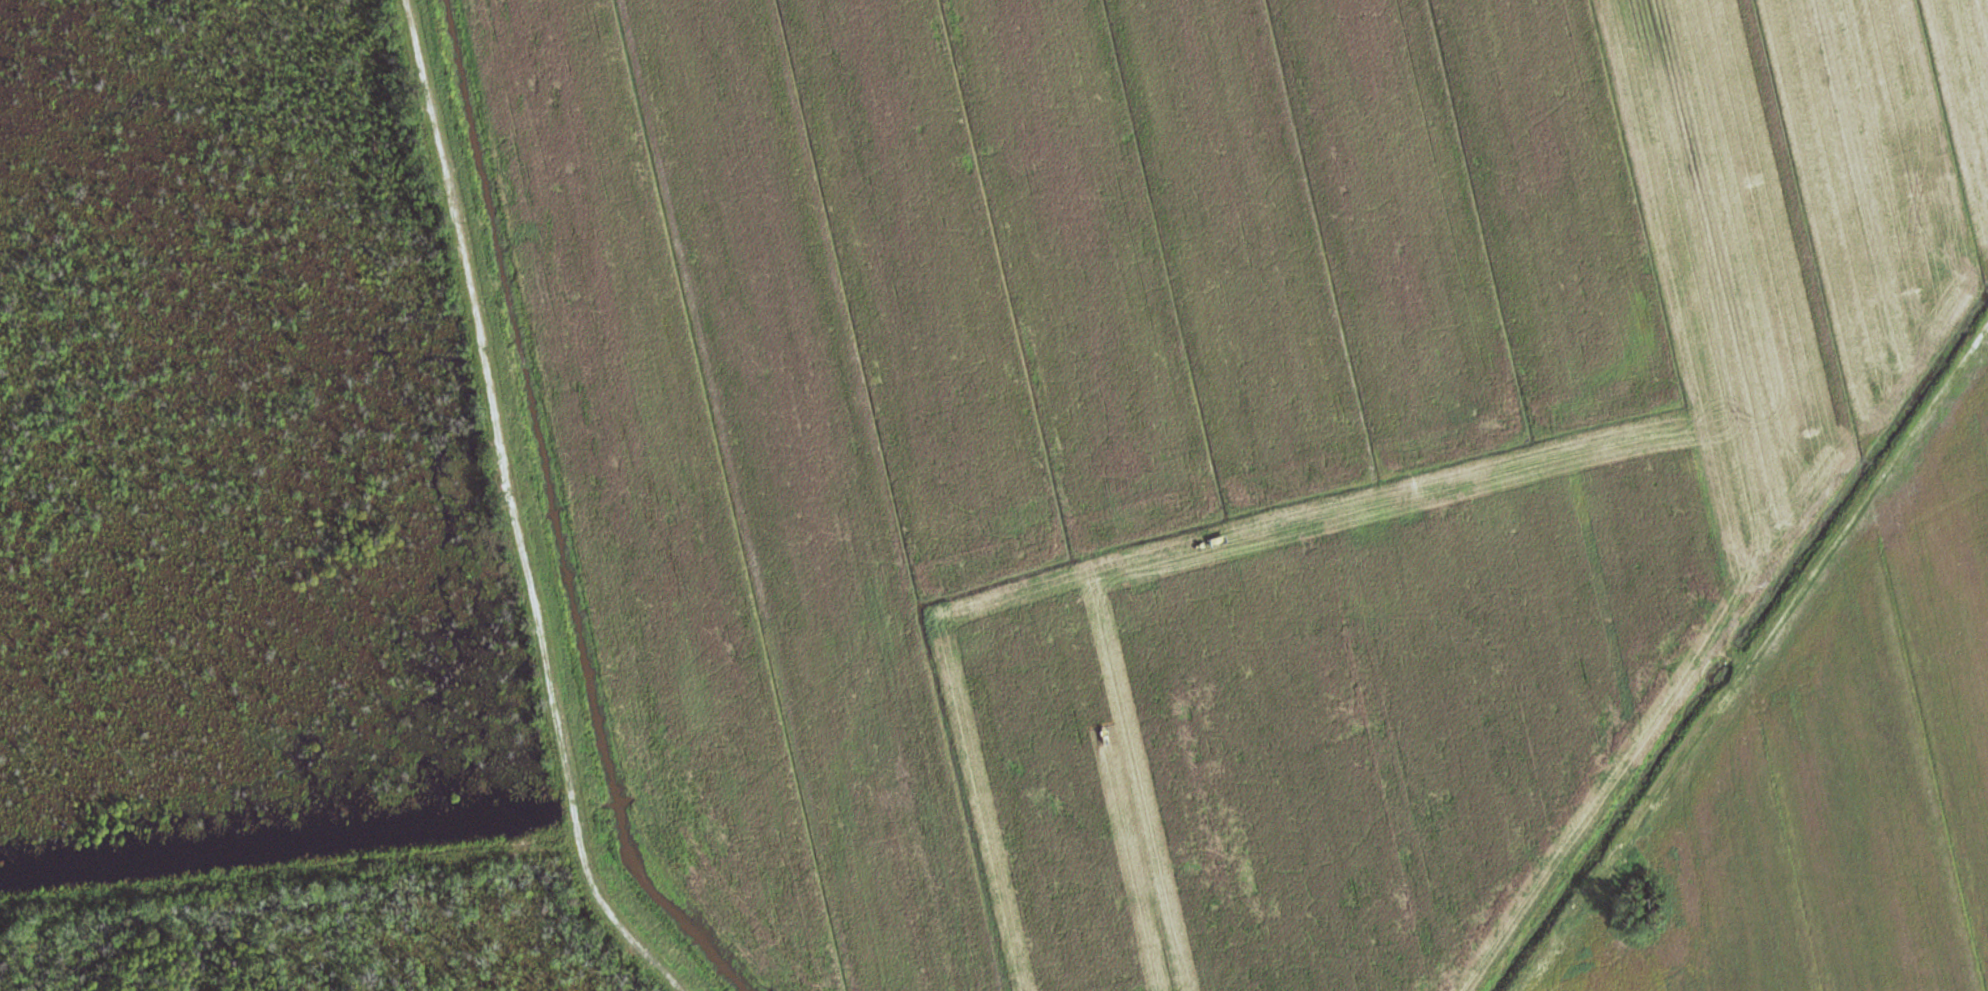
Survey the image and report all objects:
road: (496, 418)
crop: (1833, 772)
road: (288, 872)
road: (615, 921)

